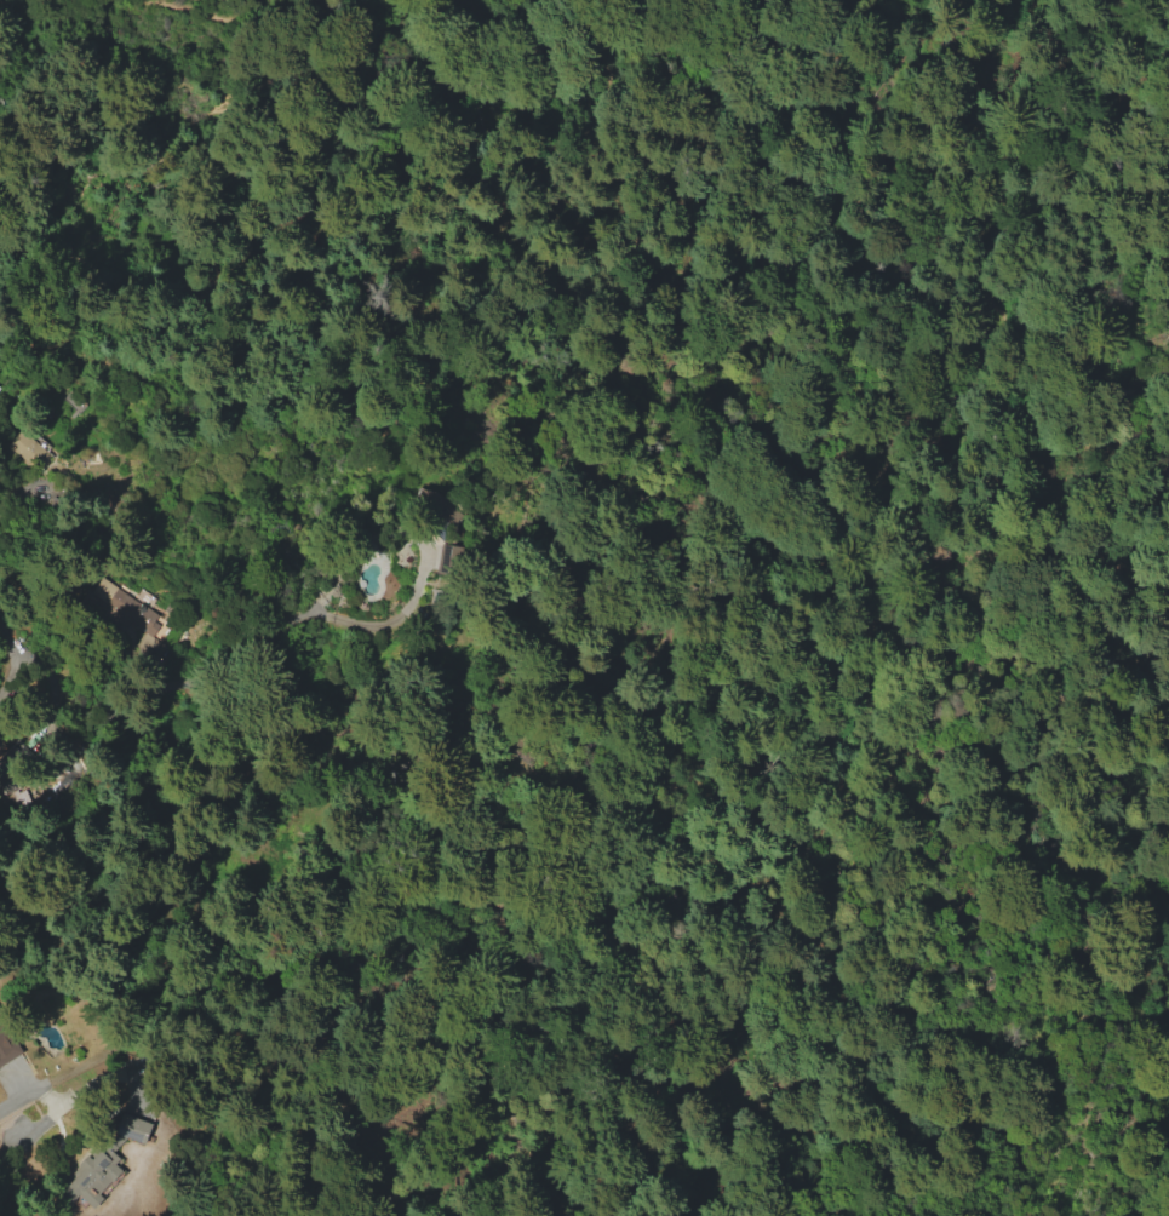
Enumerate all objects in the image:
road: (25, 5)
road: (168, 5)
road: (435, 5)
road: (787, 13)
road: (248, 64)
road: (540, 69)
road: (1064, 506)
road: (689, 587)
road: (751, 1120)

